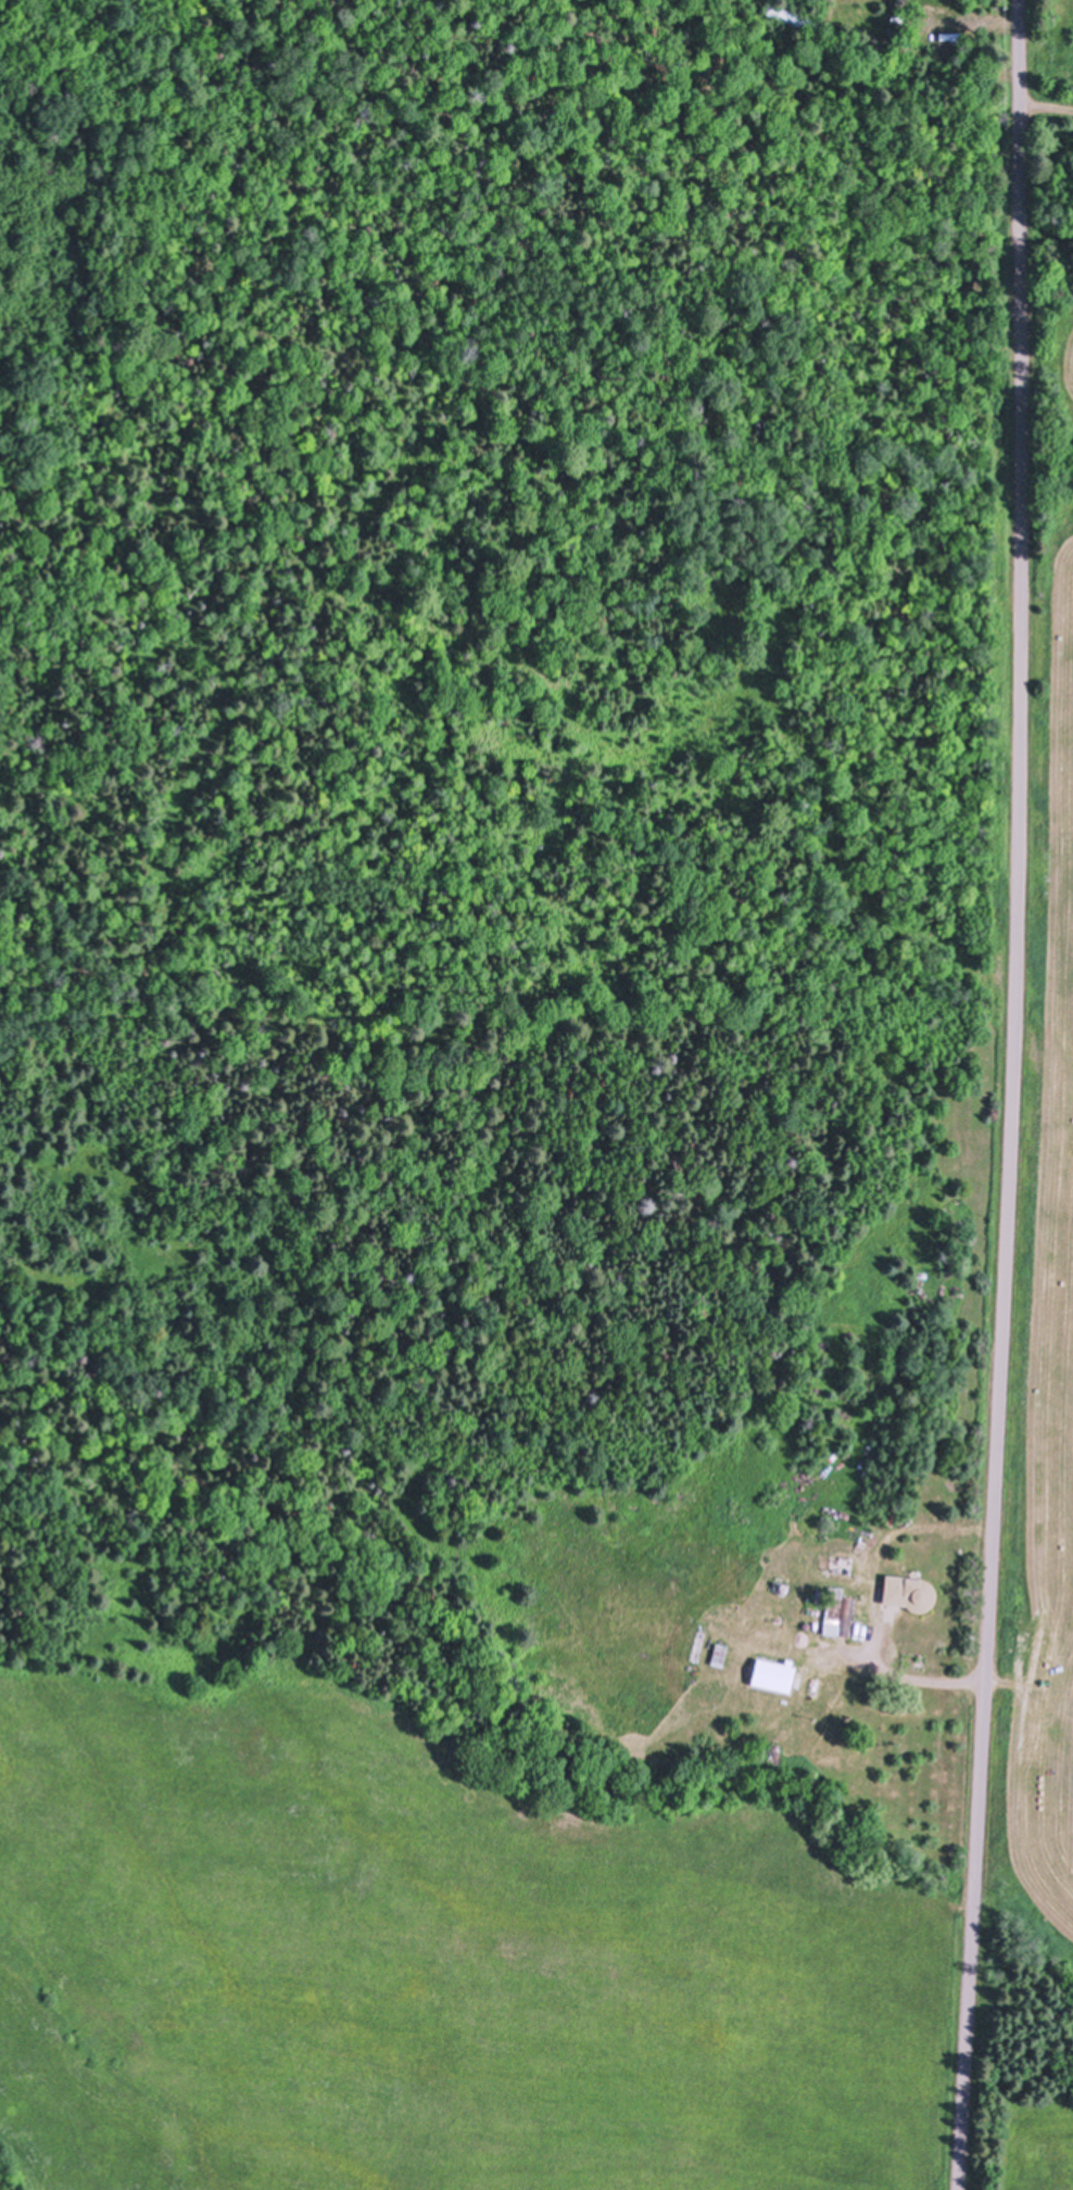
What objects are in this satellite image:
building: (793, 16)
building: (895, 29)
building: (952, 38)
building: (988, 75)
road: (1010, 1096)
building: (911, 1594)
building: (840, 1613)
building: (721, 1656)
building: (774, 1675)
road: (917, 1675)

